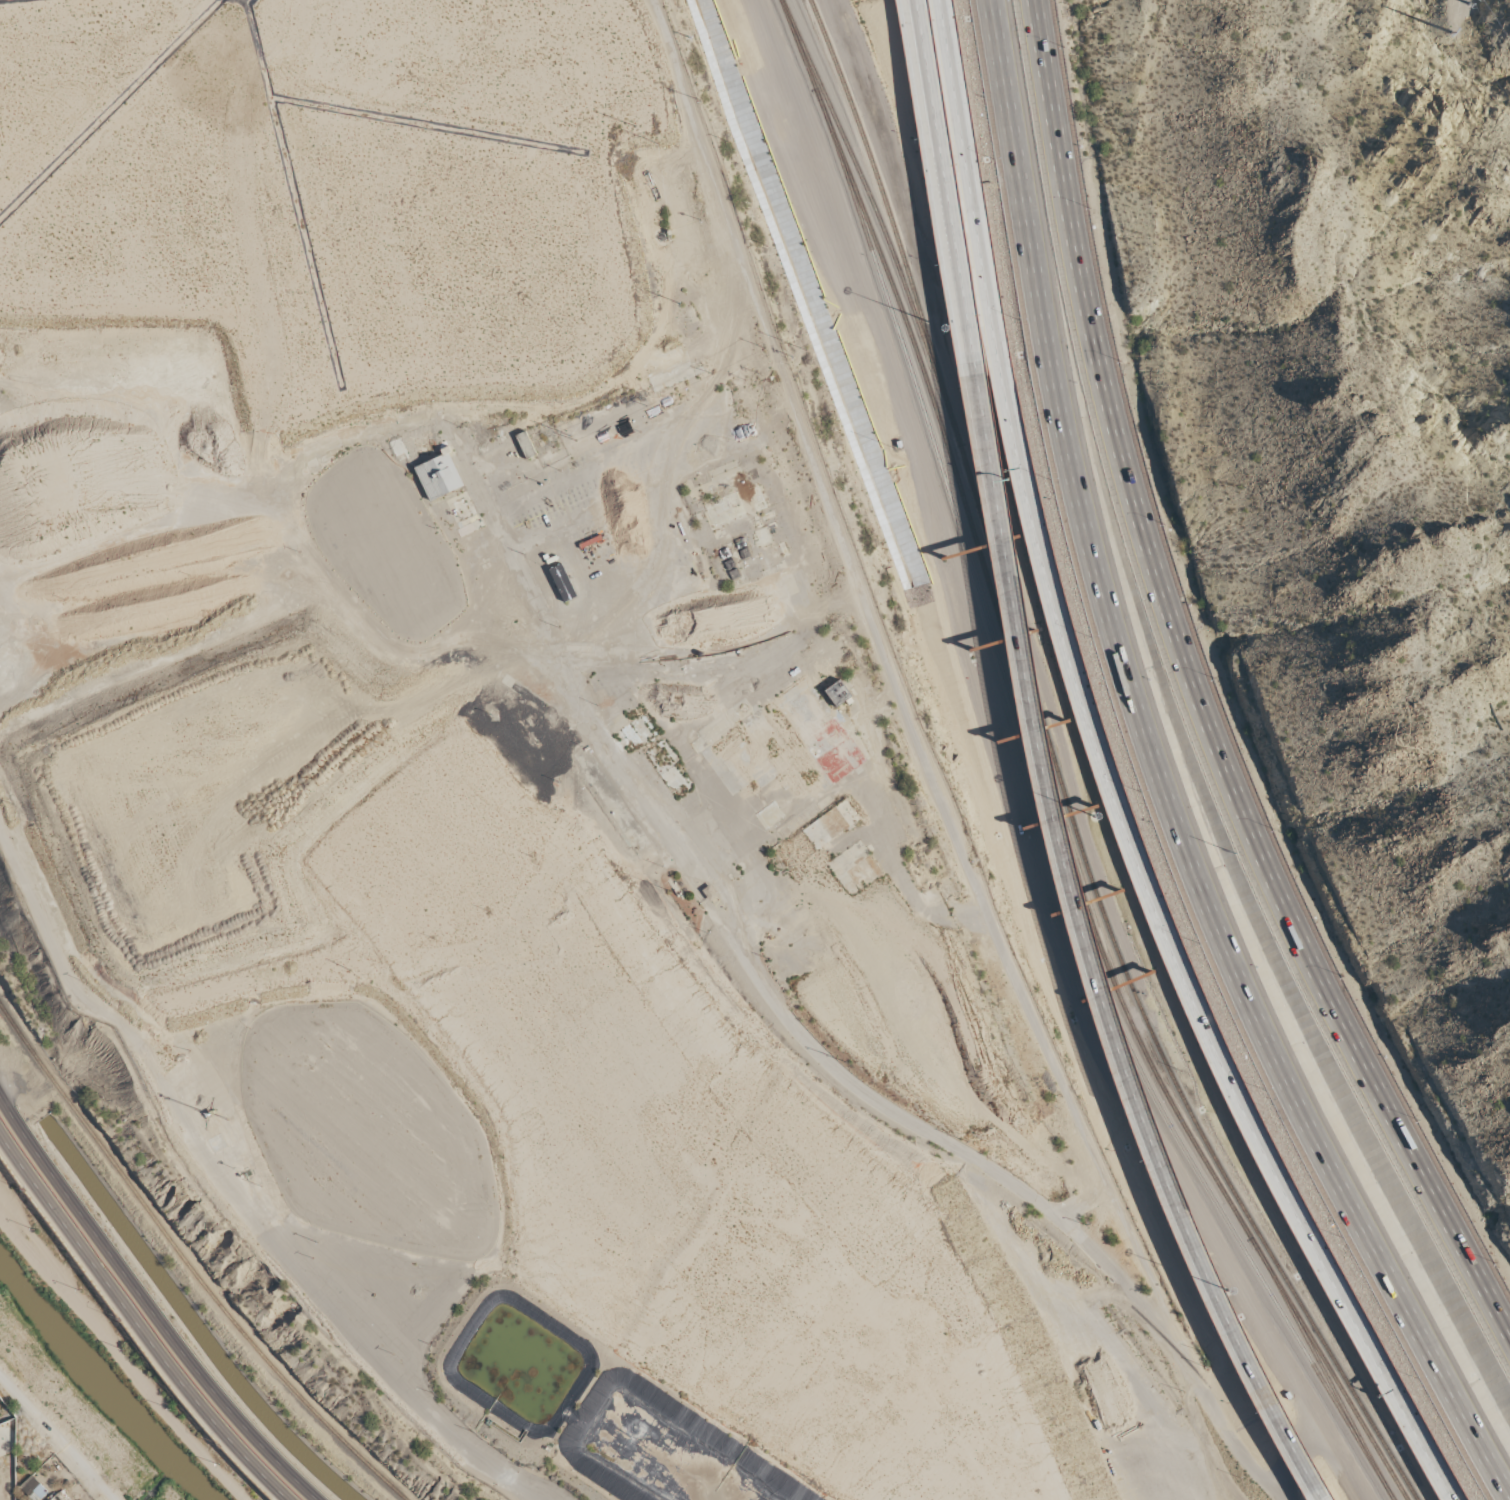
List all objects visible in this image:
power tower: (1473, 27)
railway: (258, 32)
power tower: (689, 37)
railway: (794, 45)
road: (977, 193)
road: (947, 195)
railway: (874, 219)
railway: (888, 220)
building: (438, 477)
railway: (322, 559)
railway: (1009, 674)
road: (1197, 693)
road: (924, 765)
road: (1160, 780)
railway: (204, 794)
railway: (1042, 820)
railway: (106, 843)
railway: (98, 893)
railway: (672, 957)
road: (1183, 963)
road: (1084, 967)
railway: (1132, 995)
railway: (746, 1021)
railway: (714, 1026)
railway: (570, 1031)
railway: (730, 1055)
railway: (782, 1063)
railway: (776, 1076)
railway: (681, 1093)
railway: (505, 1100)
railway: (764, 1134)
road: (934, 1138)
railway: (852, 1150)
railway: (834, 1176)
road: (233, 1195)
road: (1081, 1202)
railway: (188, 1264)
road: (148, 1306)
road: (137, 1321)
road: (1095, 1326)
railway: (1008, 1331)
railway: (1327, 1369)
railway: (1318, 1370)
railway: (1174, 1378)
river: (101, 1387)
railway: (893, 1425)
railway: (881, 1430)
railway: (873, 1433)
road: (57, 1435)
road: (54, 1439)
railway: (863, 1439)
railway: (854, 1440)

